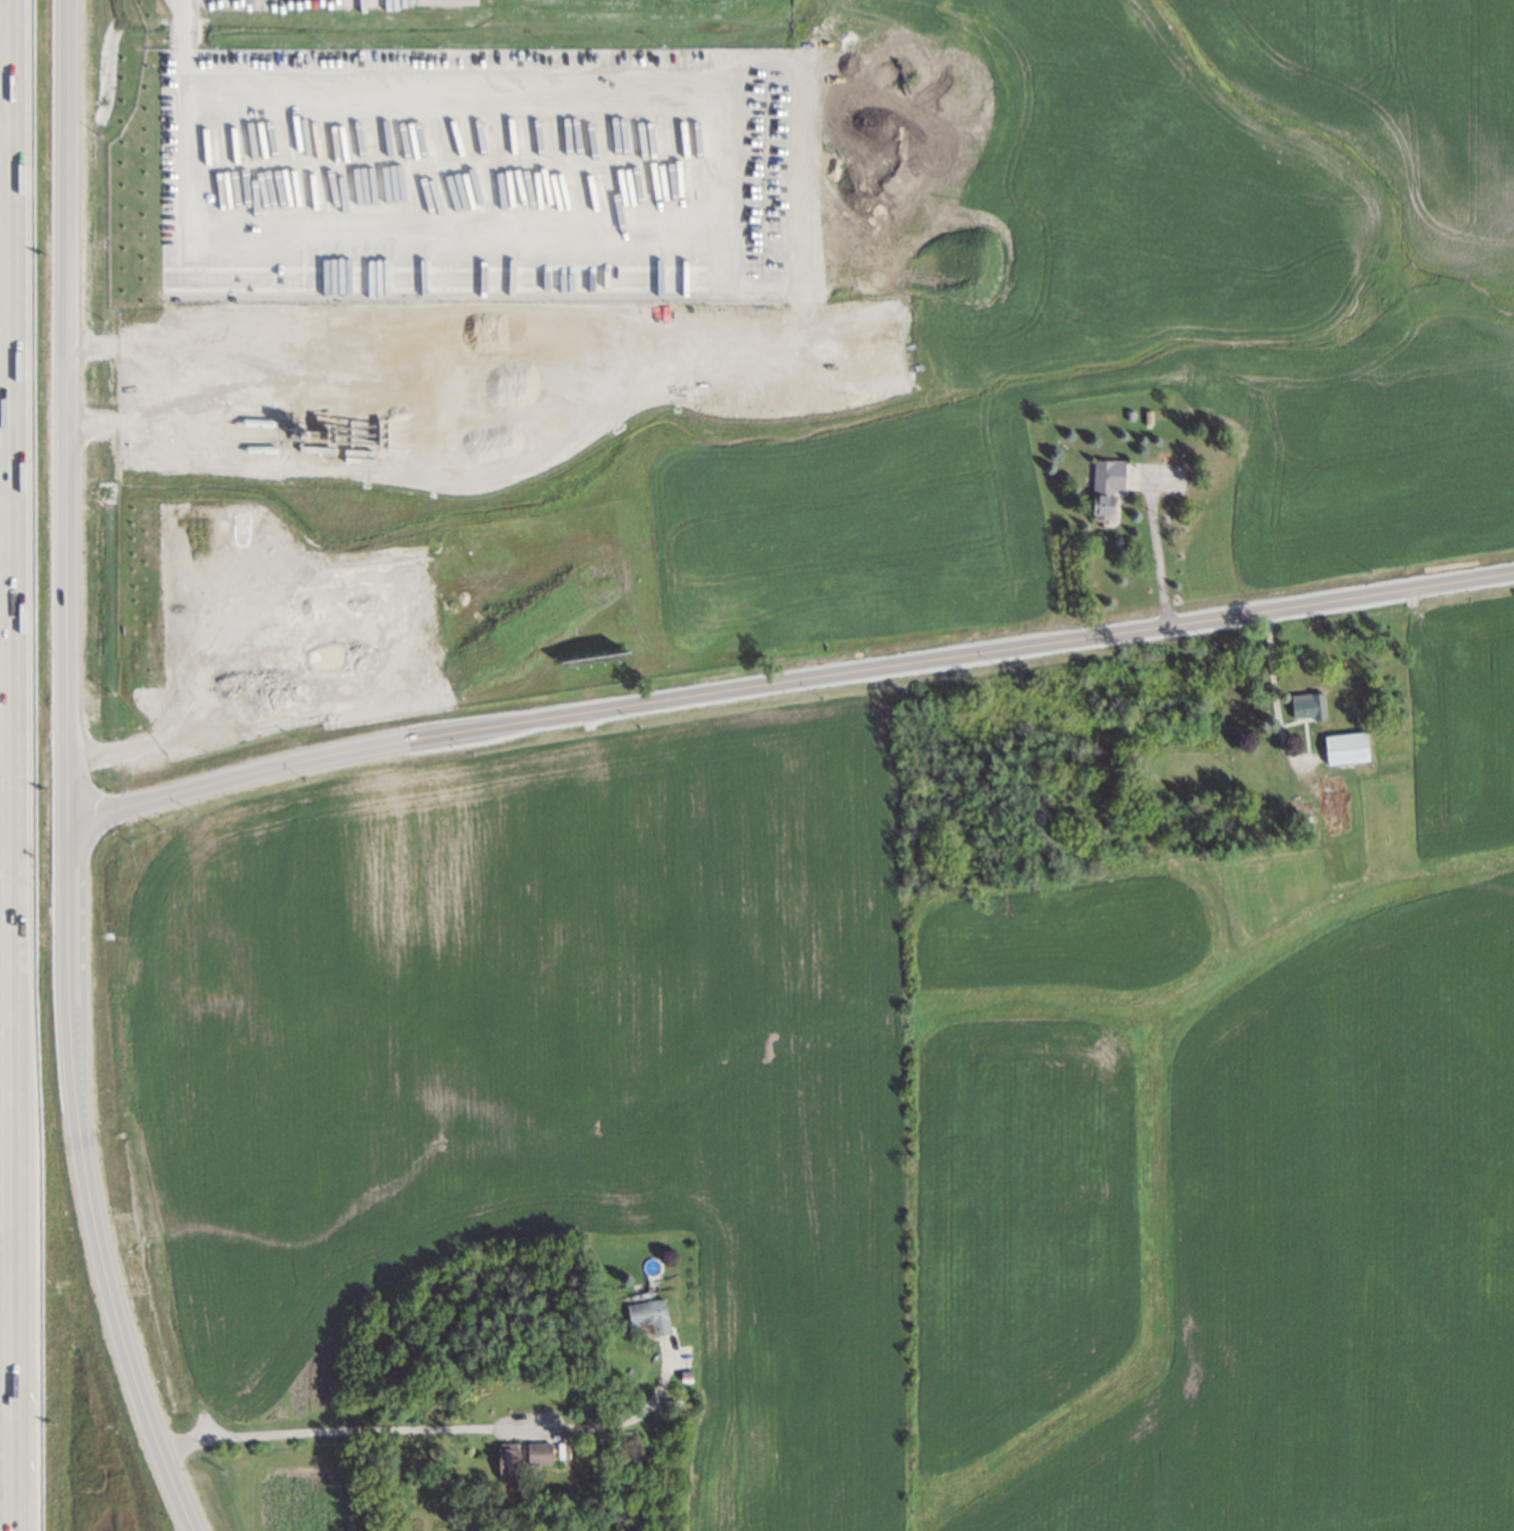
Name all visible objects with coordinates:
road: (188, 45)
road: (724, 230)
road: (148, 384)
building: (1107, 486)
road: (1161, 556)
road: (787, 683)
building: (1309, 705)
building: (1347, 747)
road: (9, 753)
road: (66, 775)
crop: (857, 1108)
building: (648, 1310)
road: (431, 1430)
building: (540, 1453)
building: (510, 1458)
road: (16, 1519)

